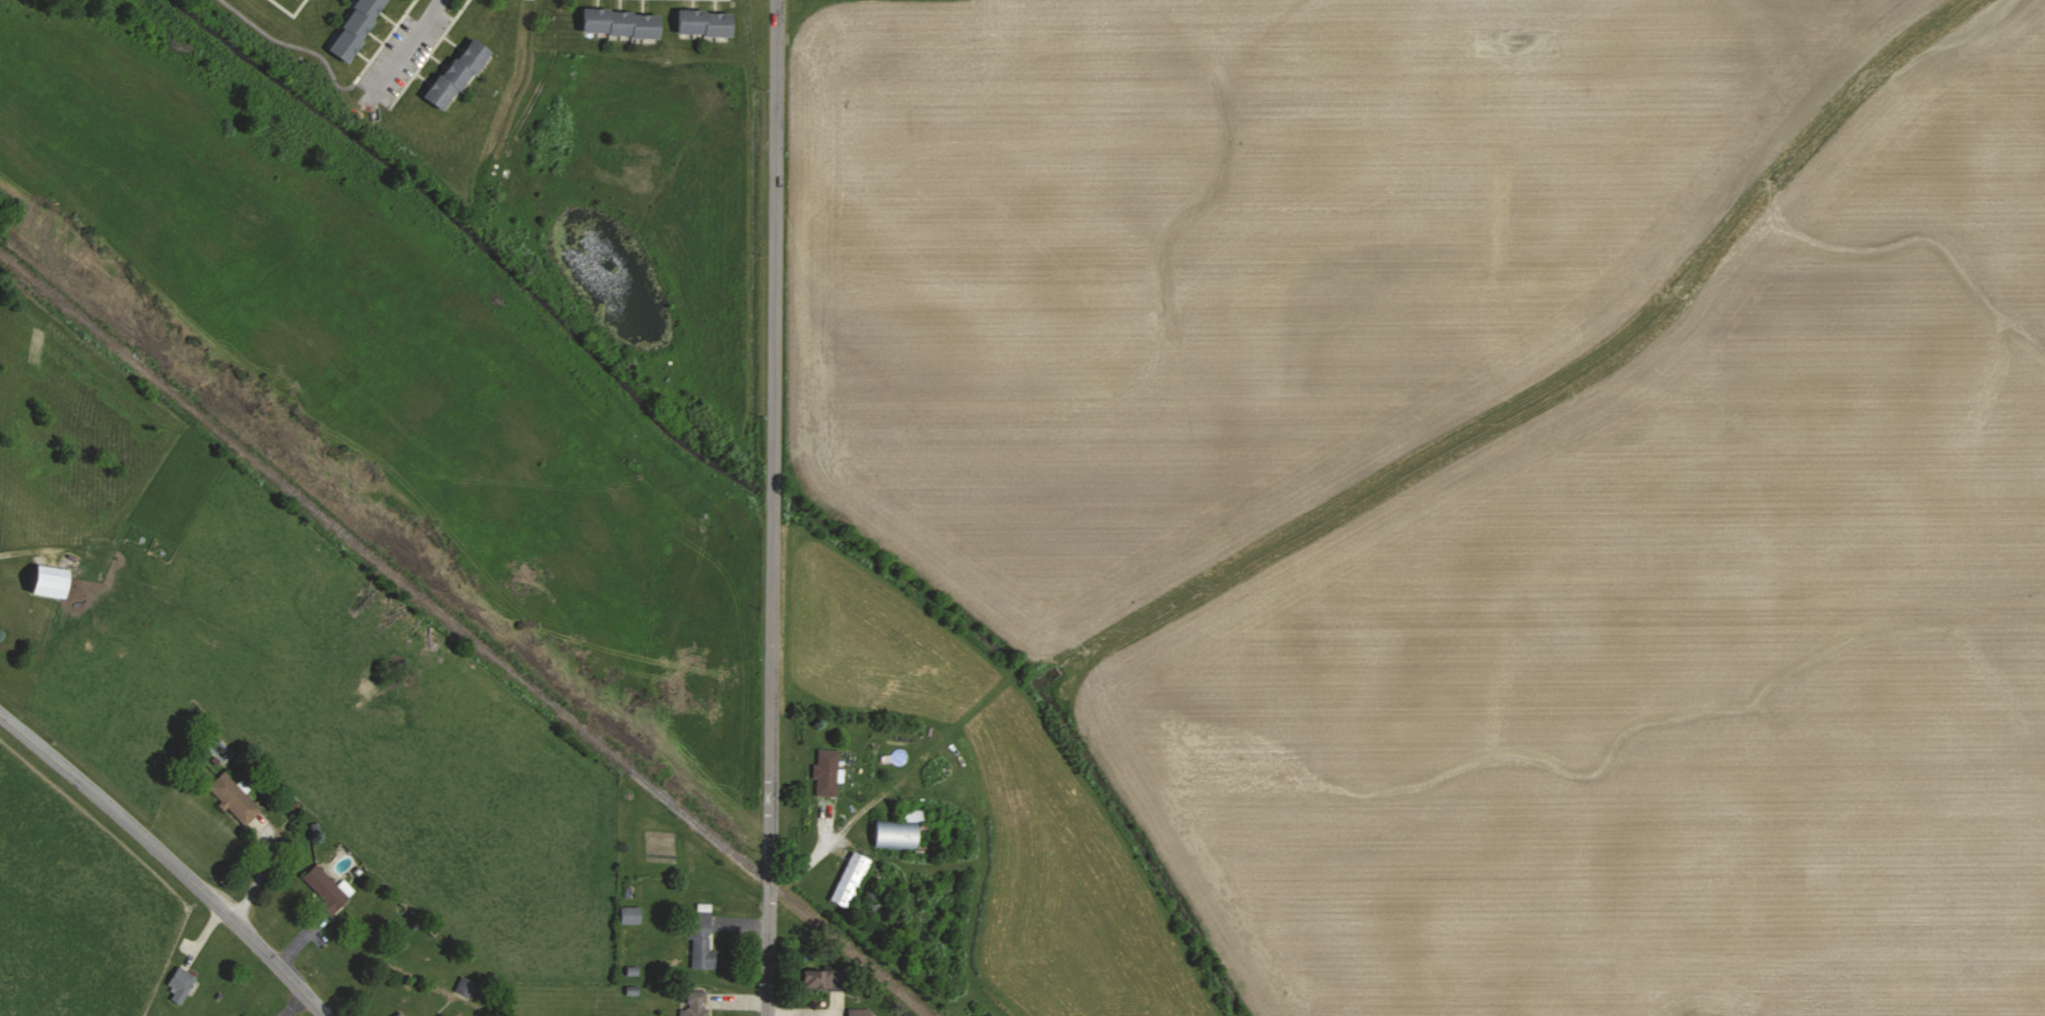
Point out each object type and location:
building: (703, 20)
building: (618, 24)
building: (353, 28)
road: (404, 45)
parking lot: (401, 49)
building: (456, 73)
road: (773, 508)
building: (44, 581)
railway: (467, 633)
building: (231, 799)
building: (890, 835)
road: (813, 857)
road: (167, 859)
building: (847, 880)
building: (325, 887)
building: (627, 915)
building: (813, 979)
building: (178, 985)
building: (463, 986)
building: (693, 1004)
building: (856, 1012)
building: (399, 1015)

